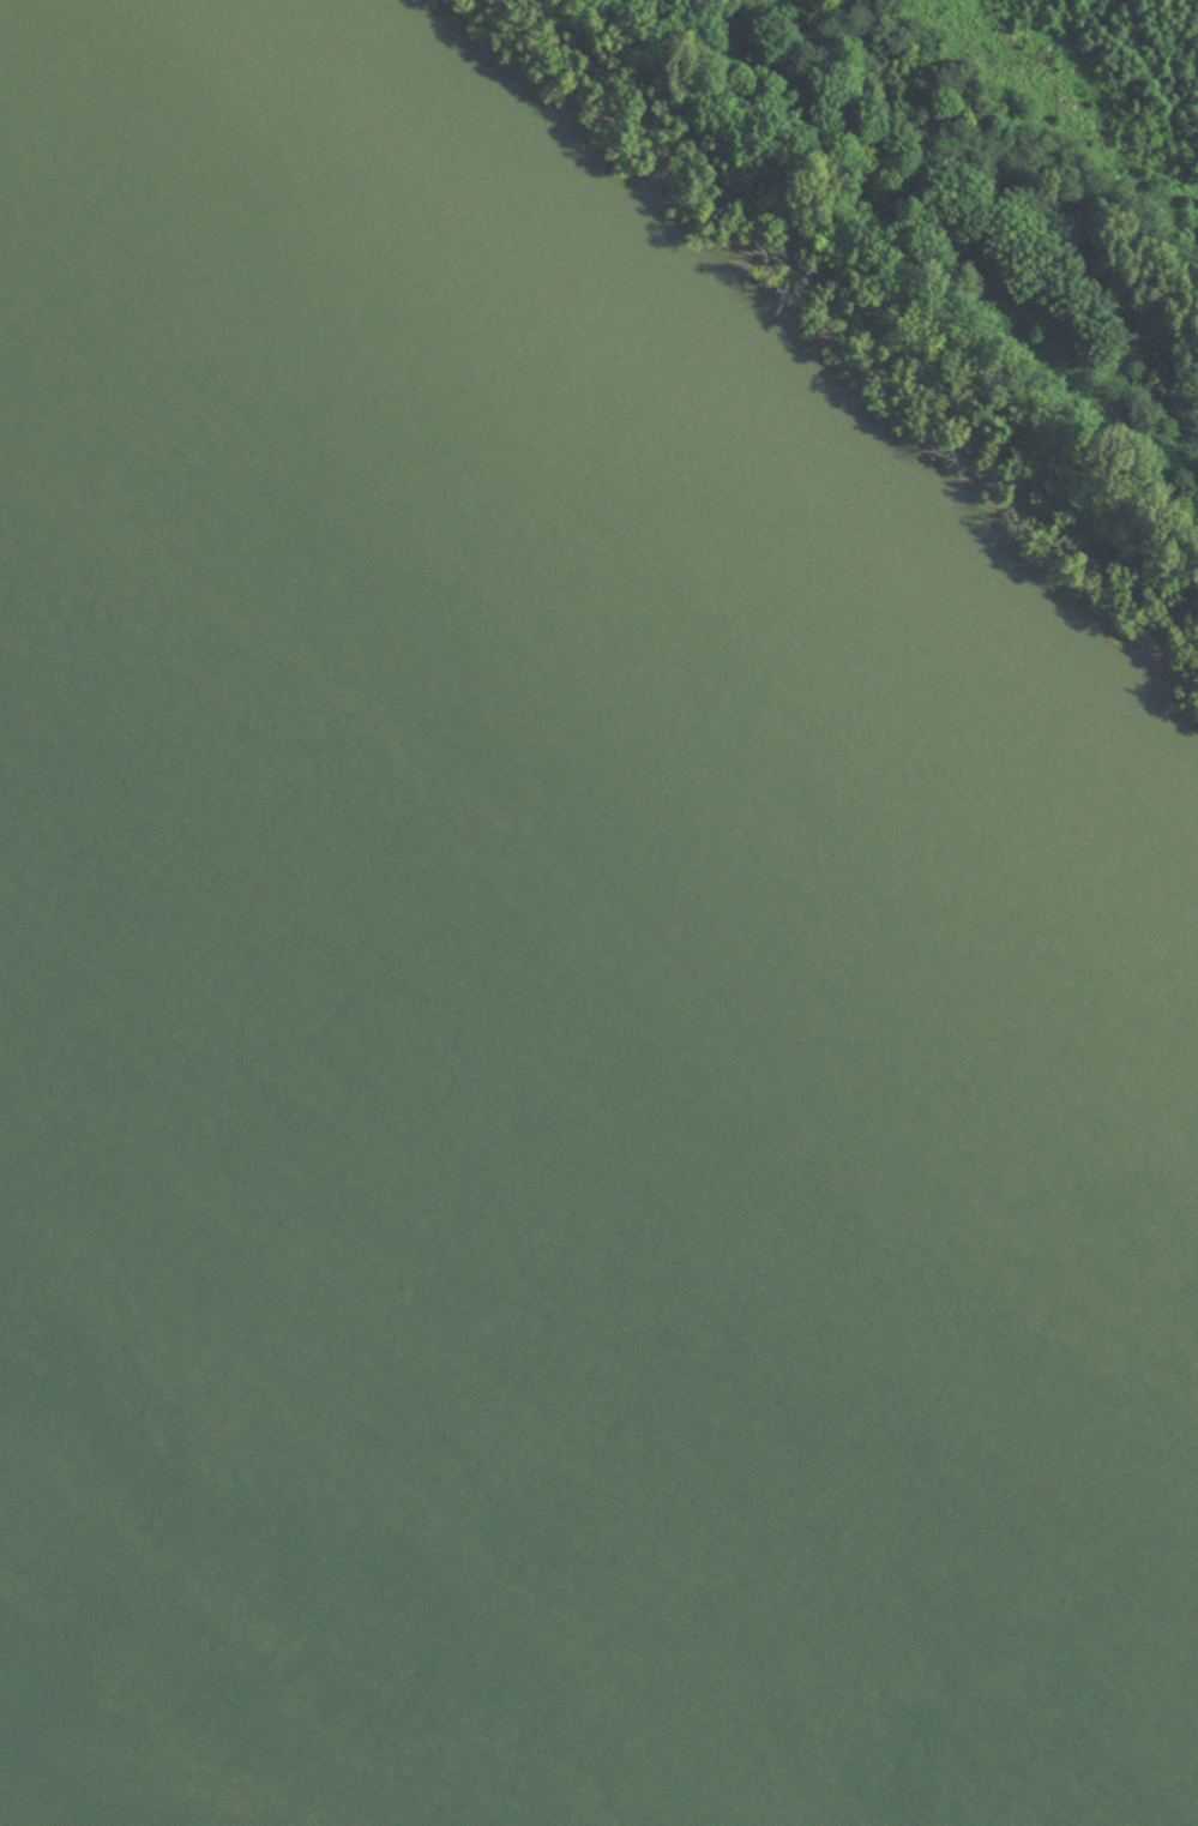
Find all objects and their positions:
river: (134, 1716)

